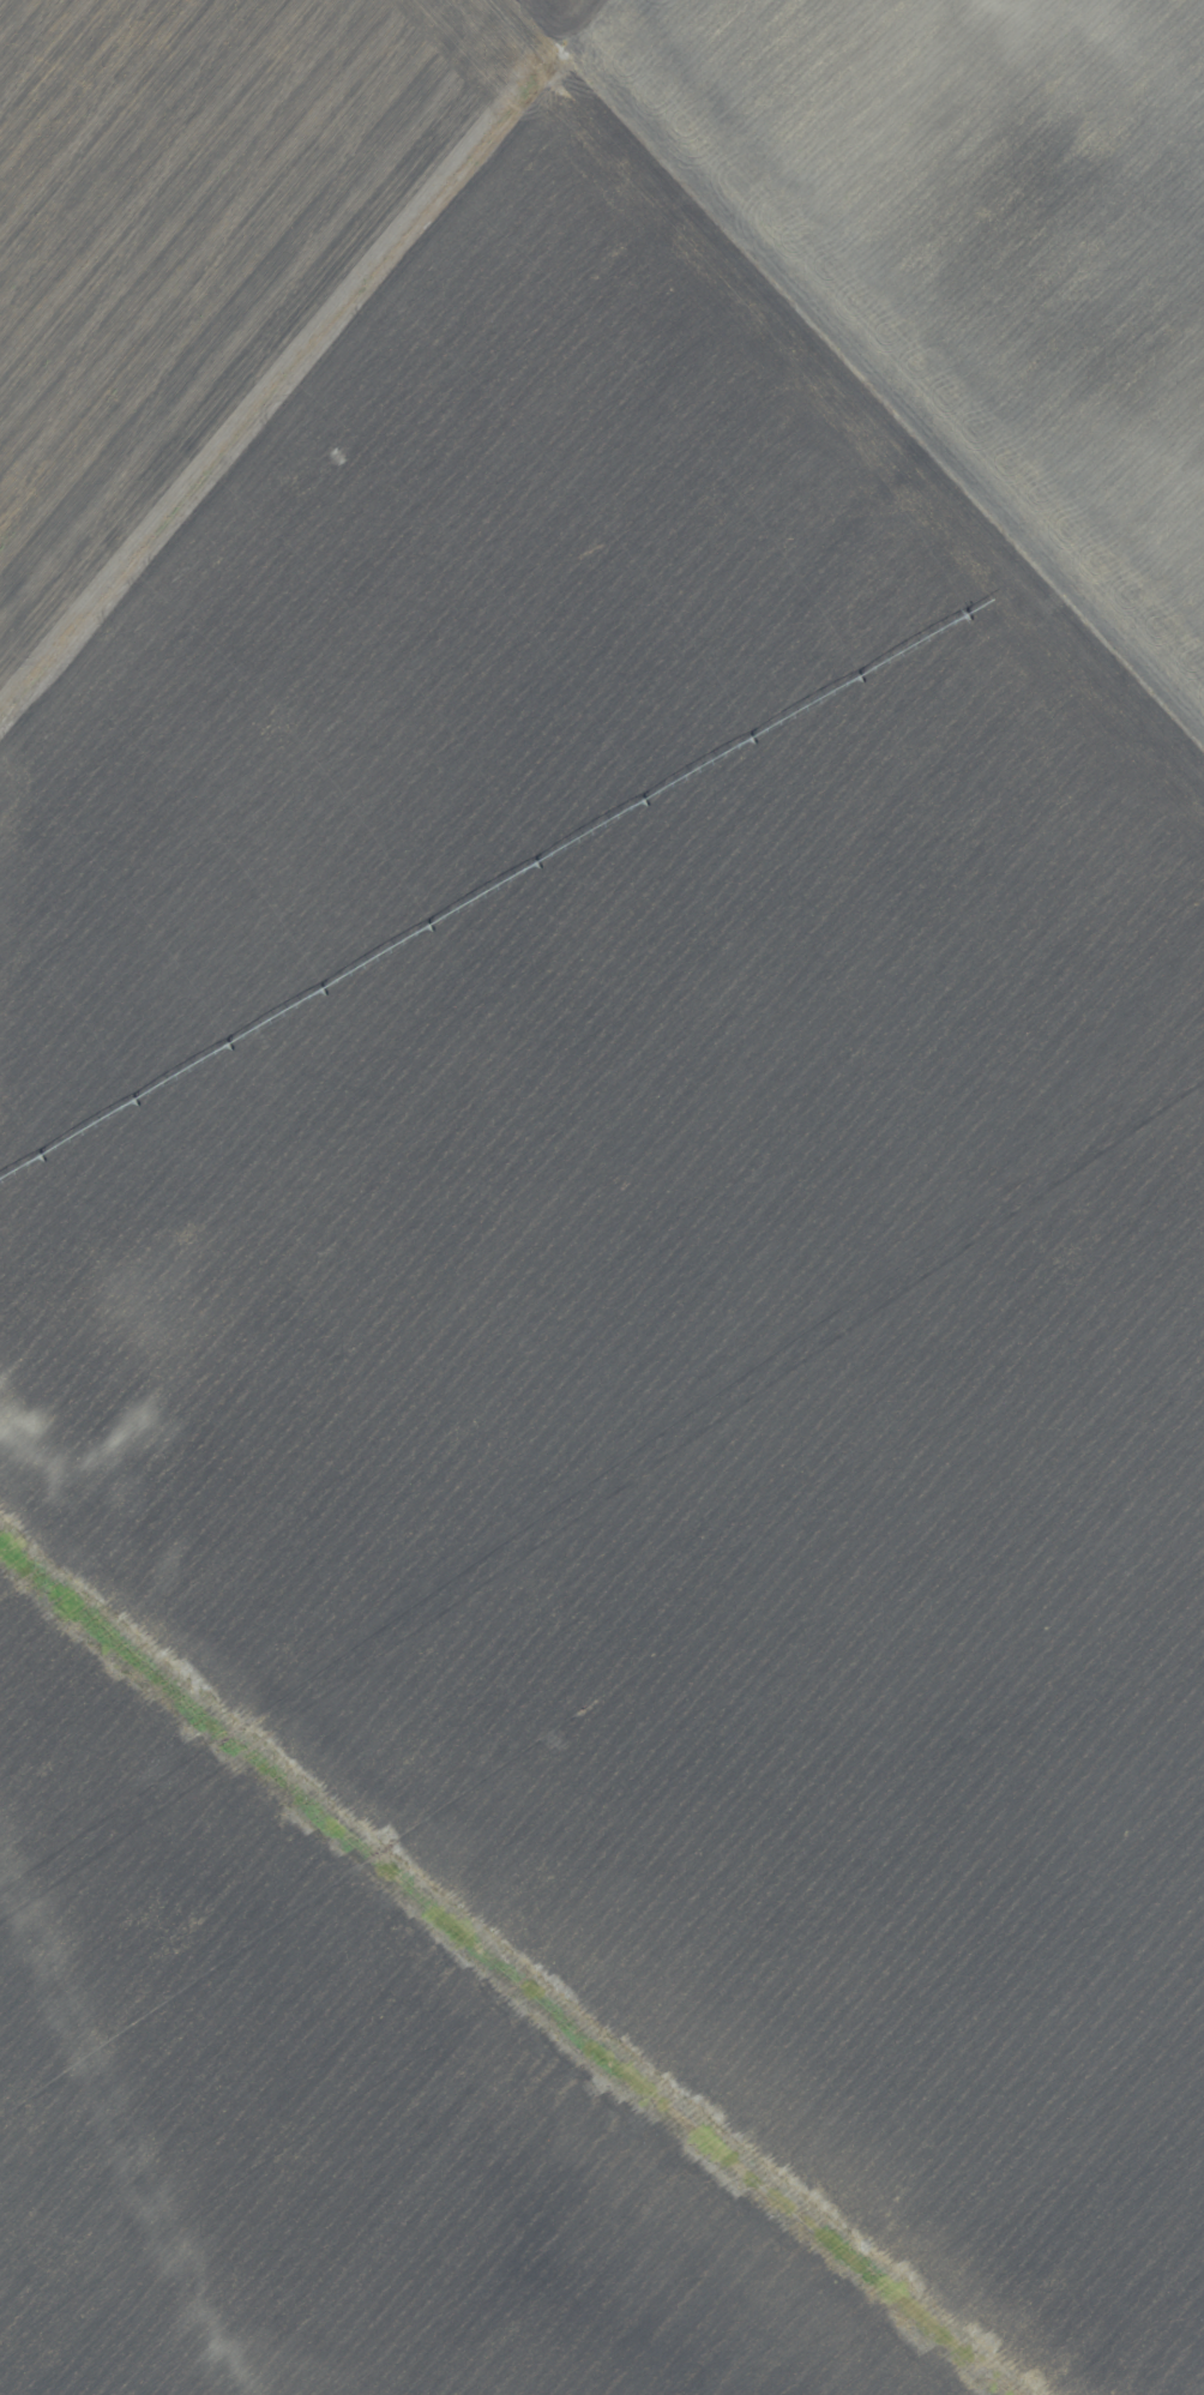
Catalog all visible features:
road: (119, 2132)

